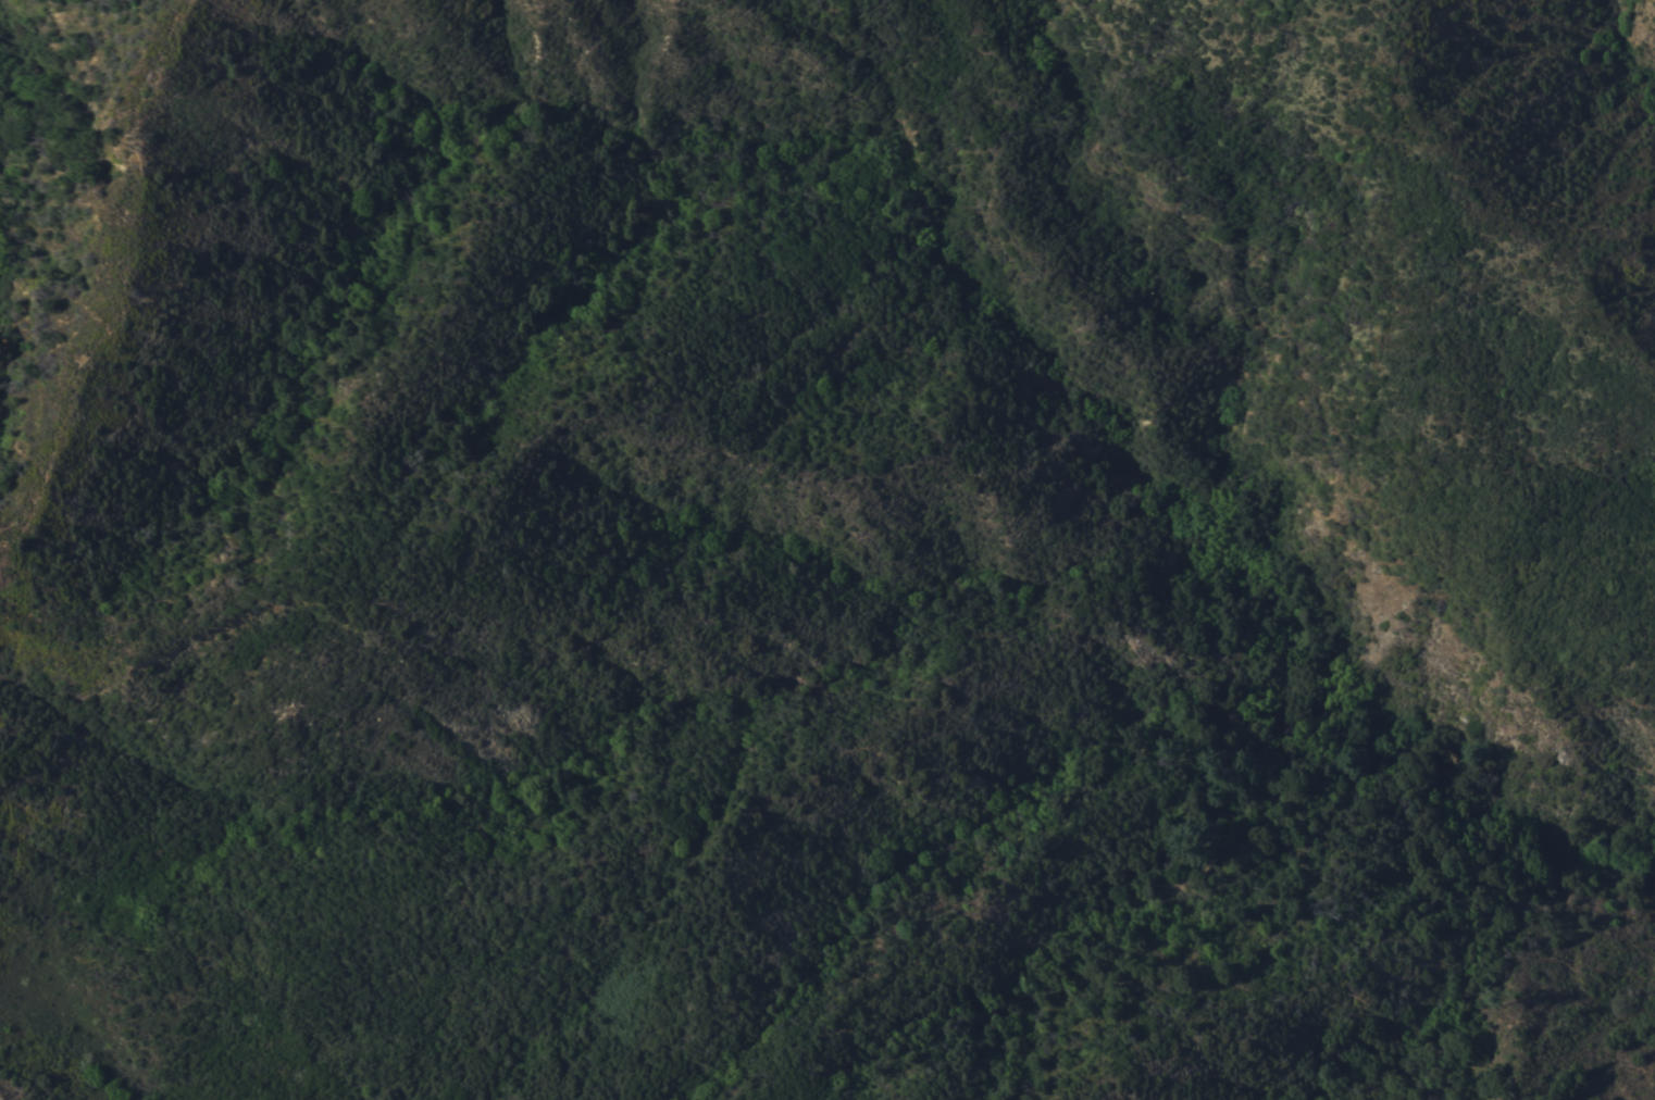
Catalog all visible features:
road: (105, 252)

